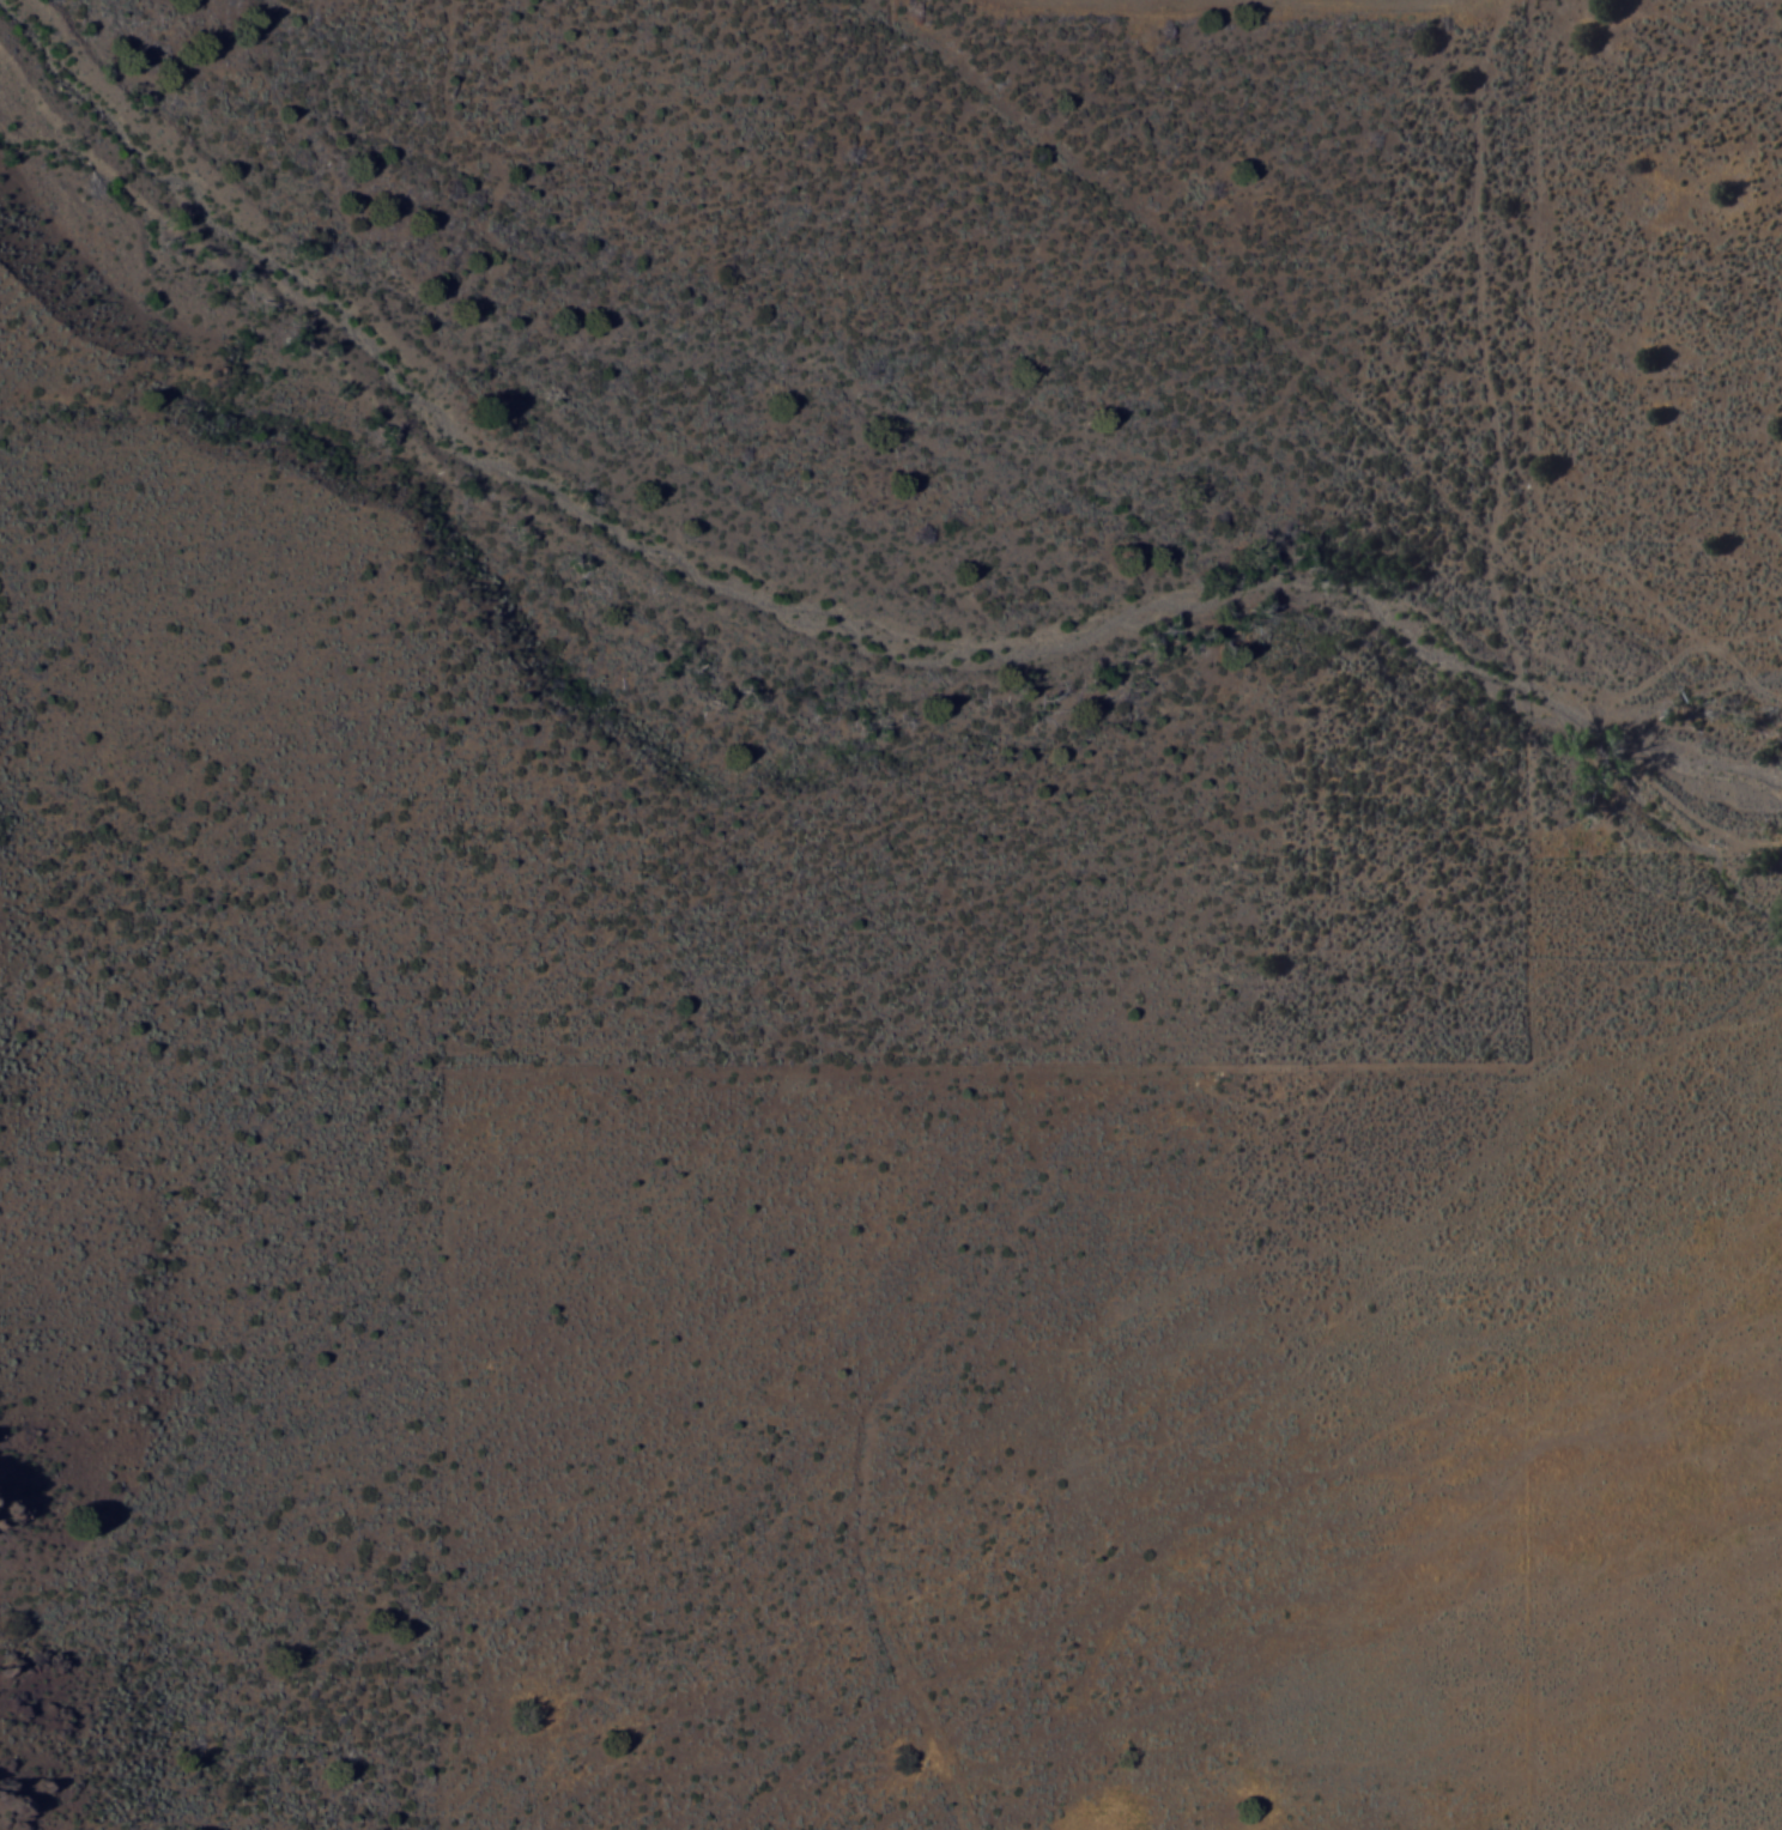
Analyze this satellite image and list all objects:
road: (1455, 232)

